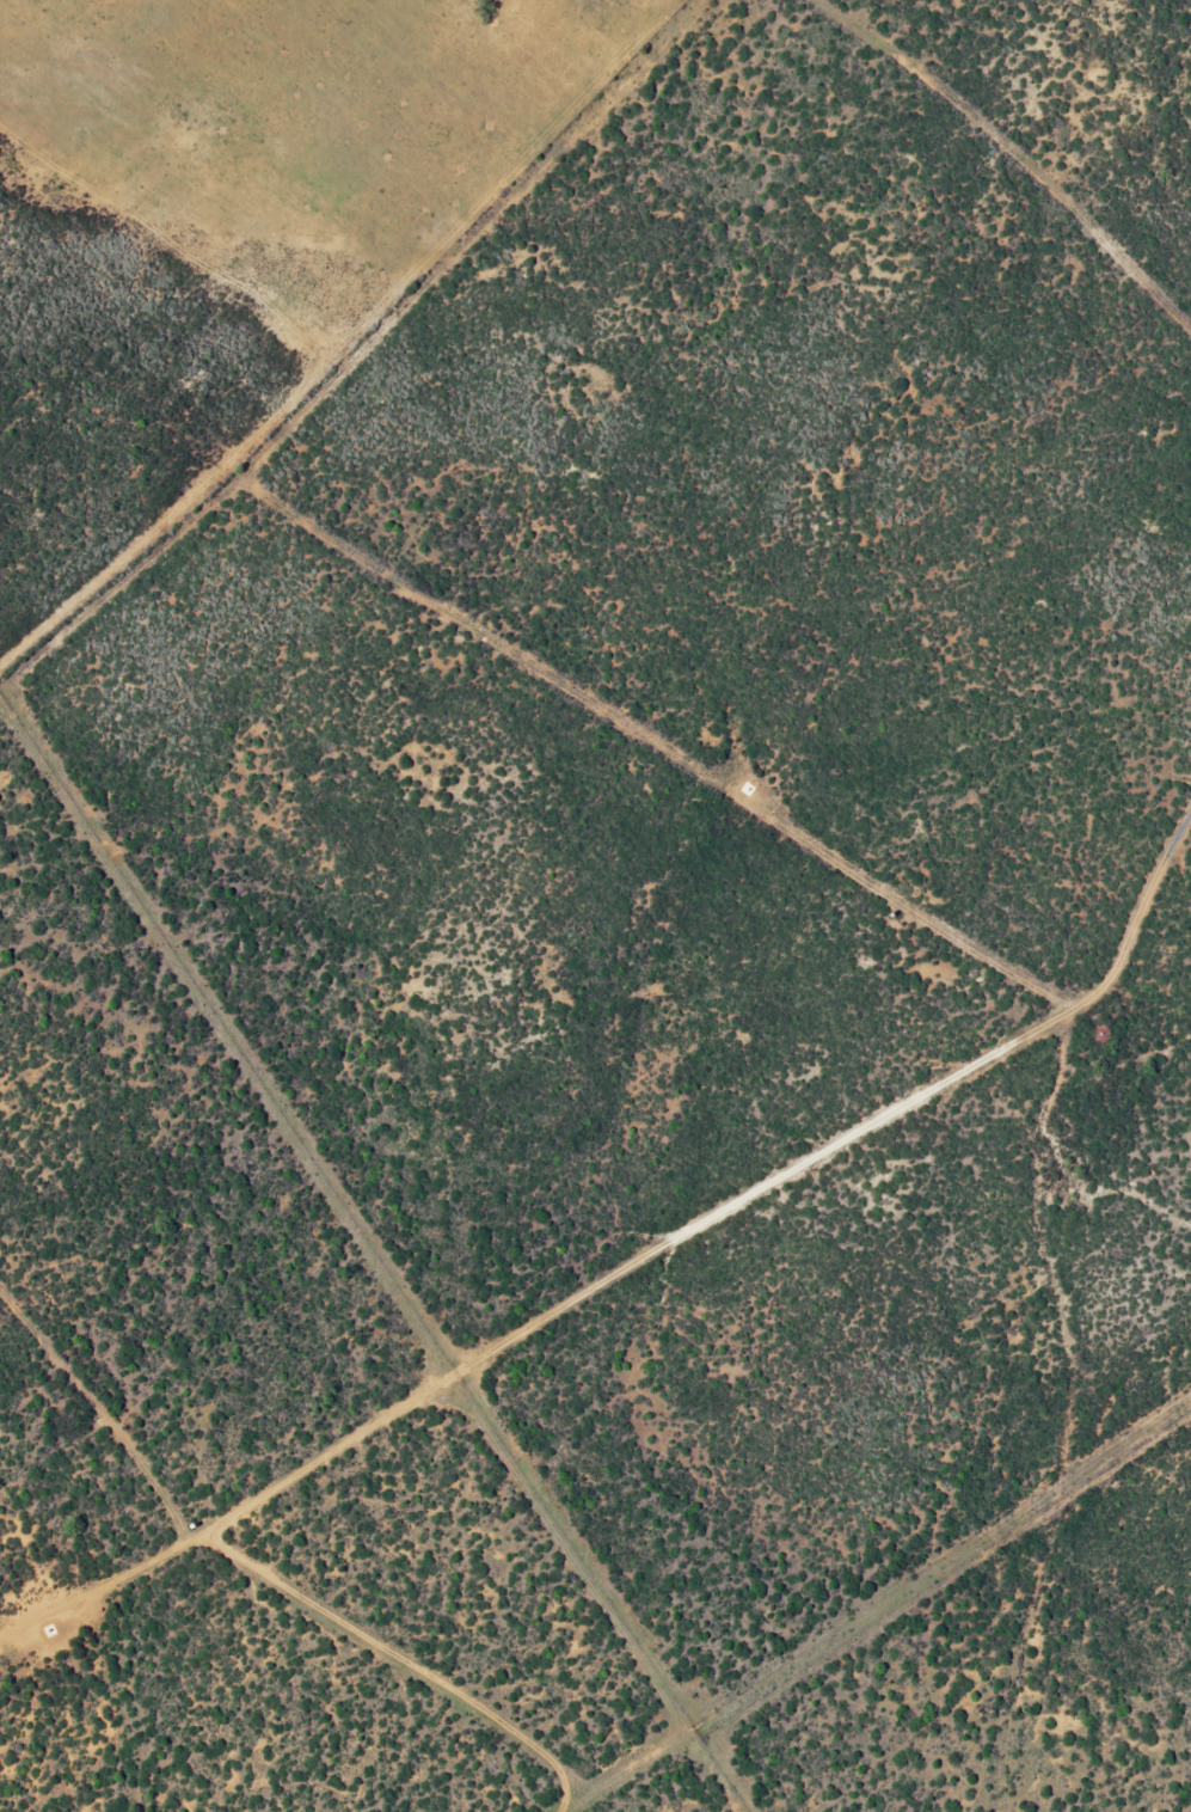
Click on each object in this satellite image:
road: (1064, 1299)

